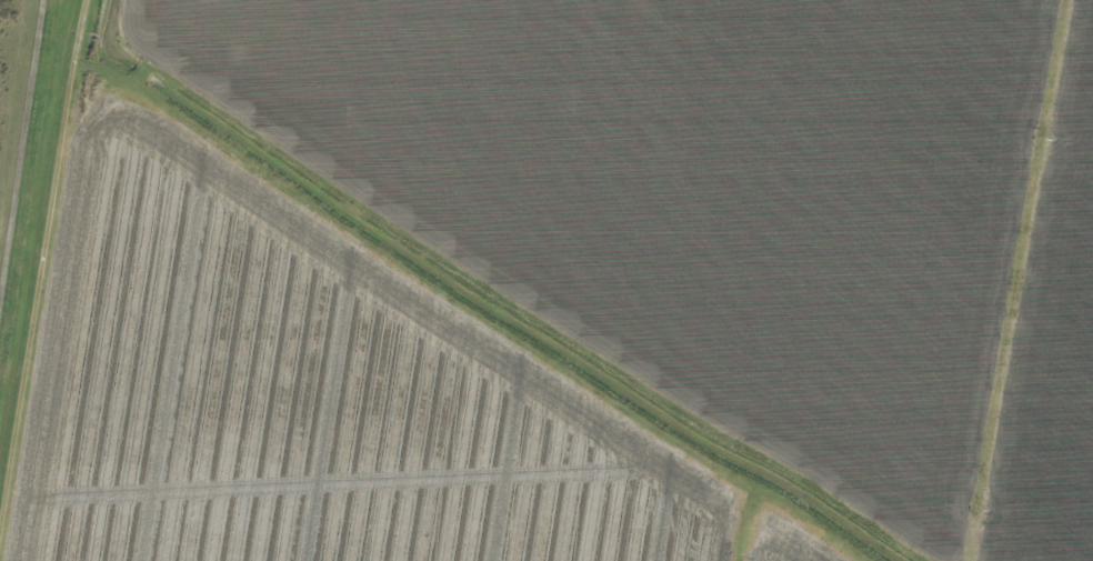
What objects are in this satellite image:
road: (51, 280)
road: (464, 310)

